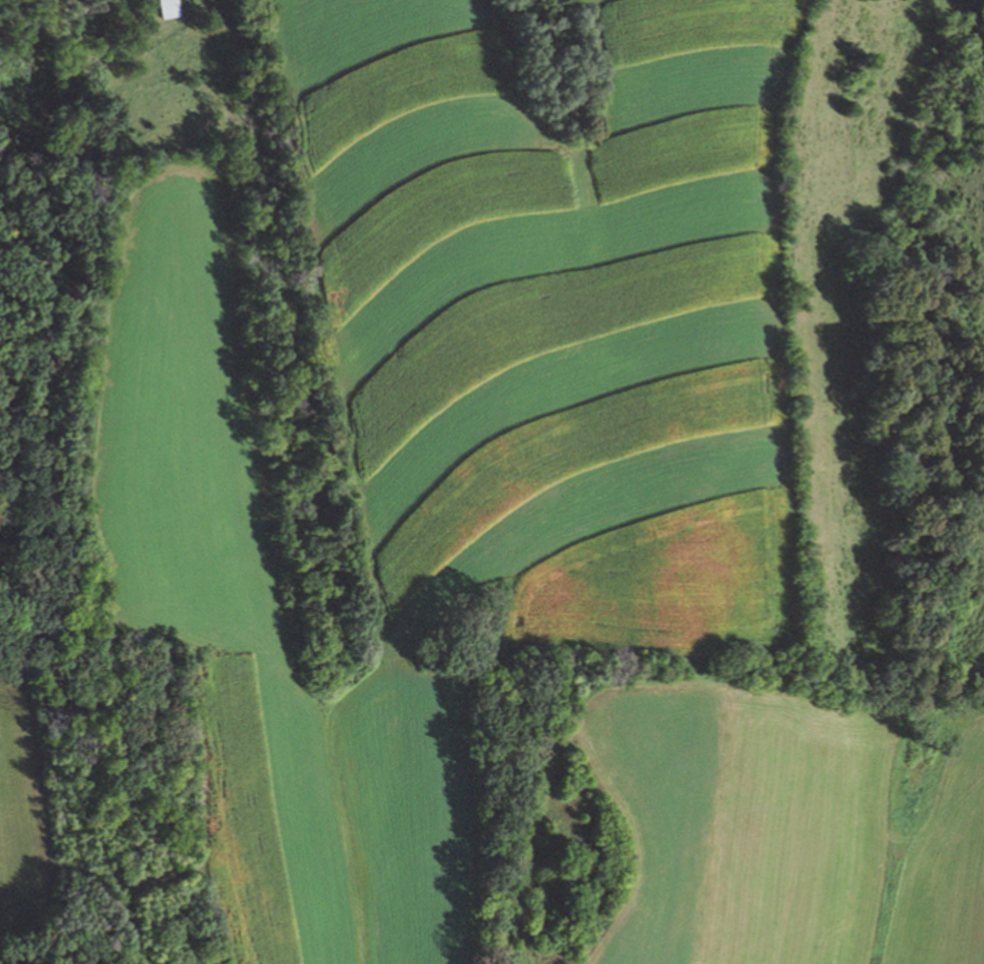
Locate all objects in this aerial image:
building: (168, 9)
road: (532, 814)

